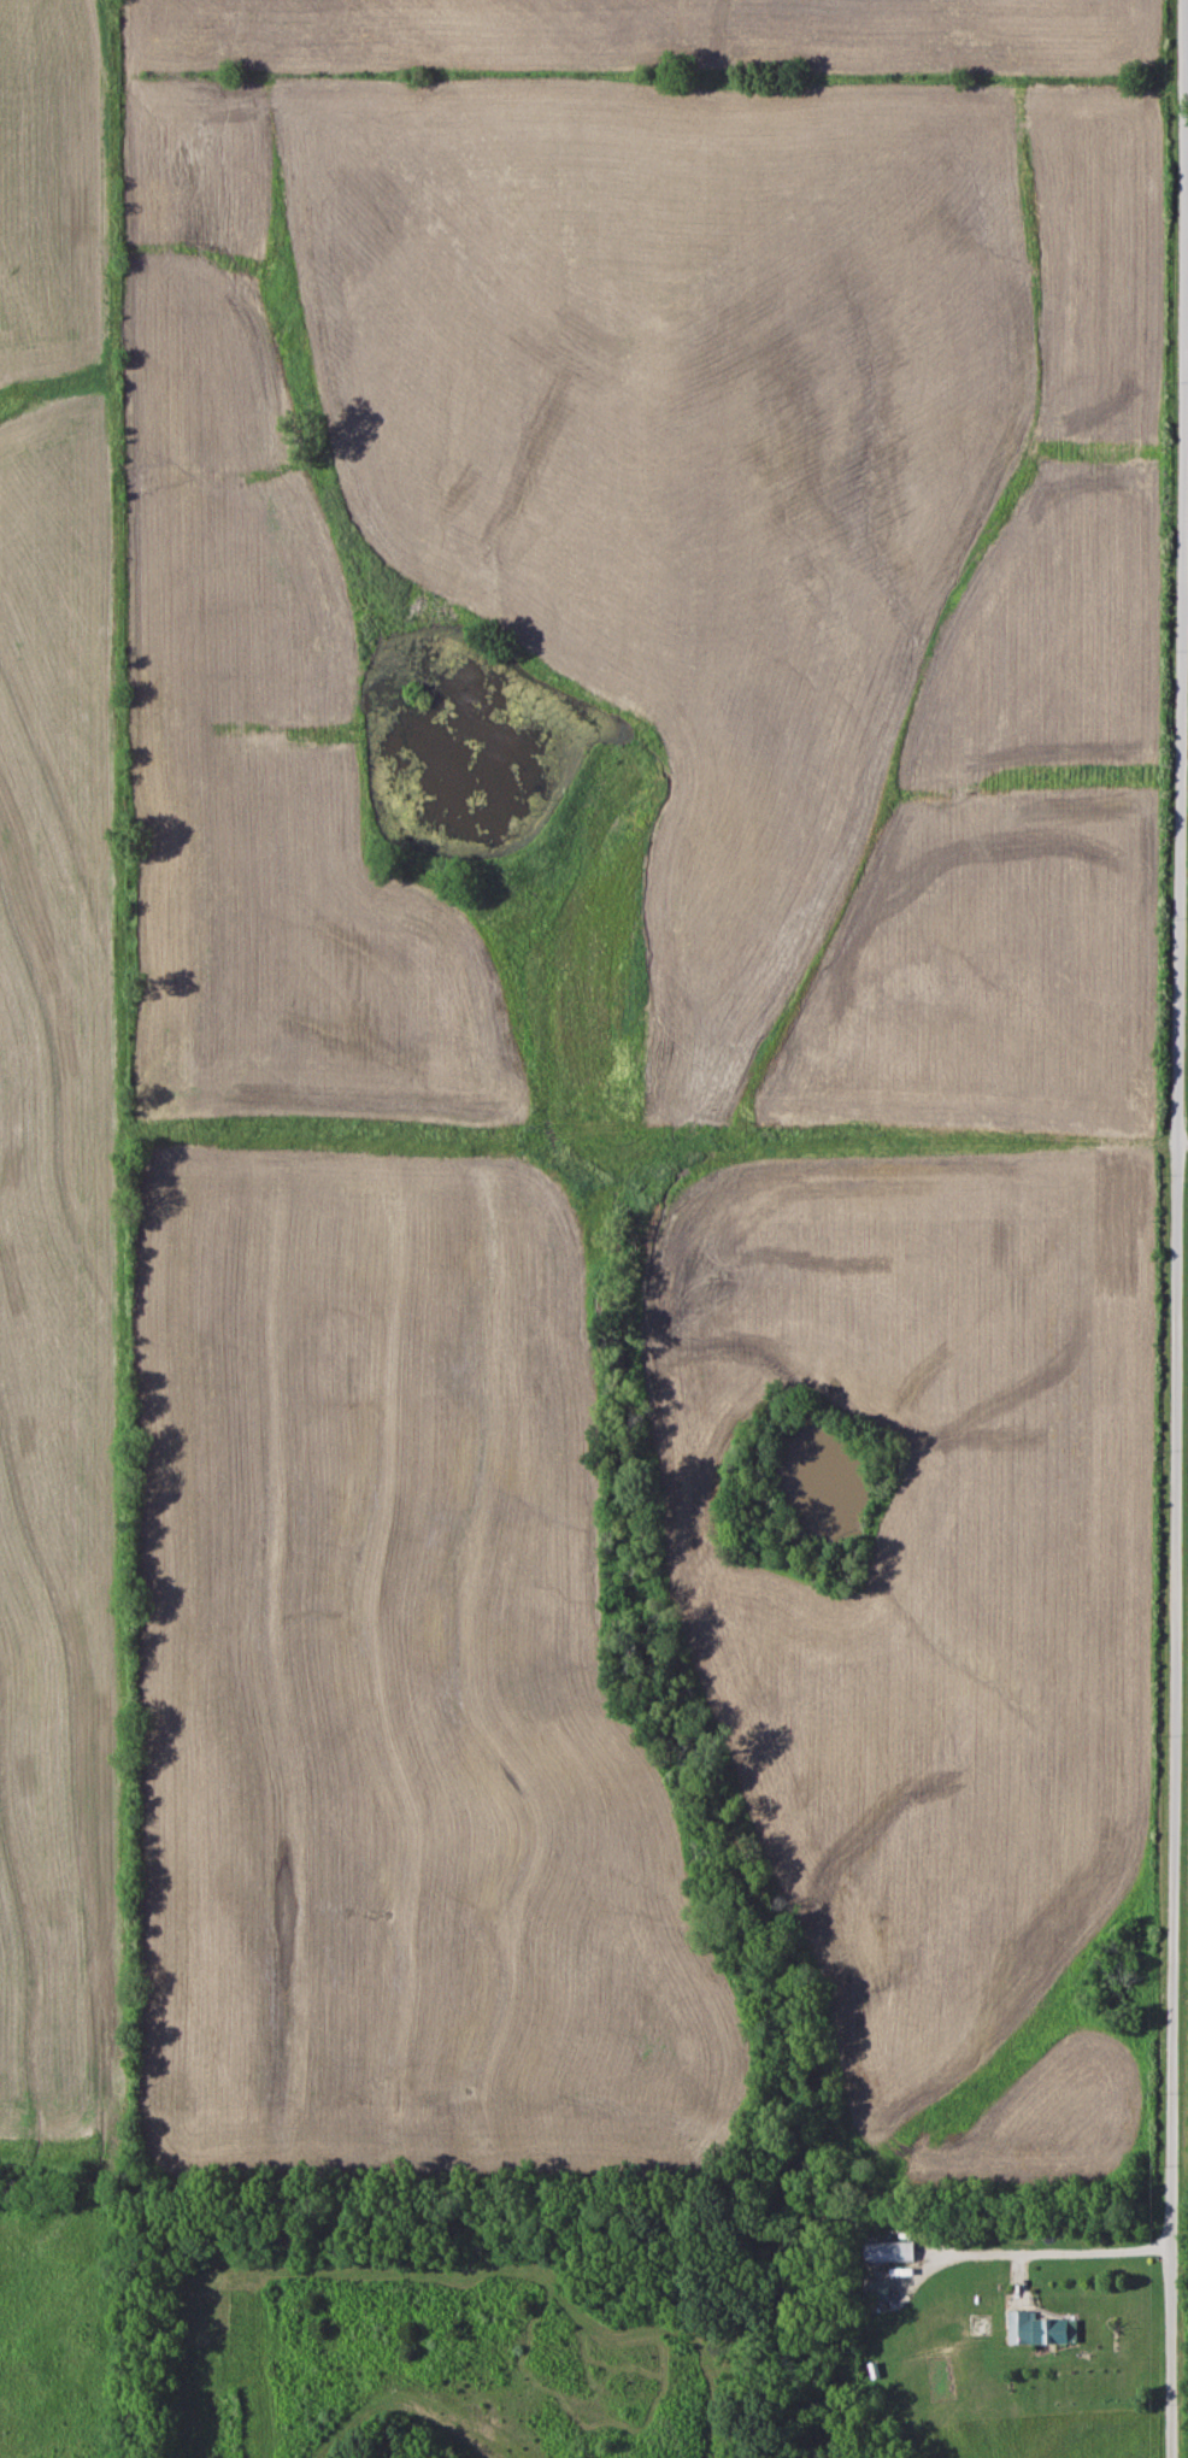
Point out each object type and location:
road: (1184, 1137)
road: (1181, 1229)
building: (889, 2252)
building: (1037, 2330)

